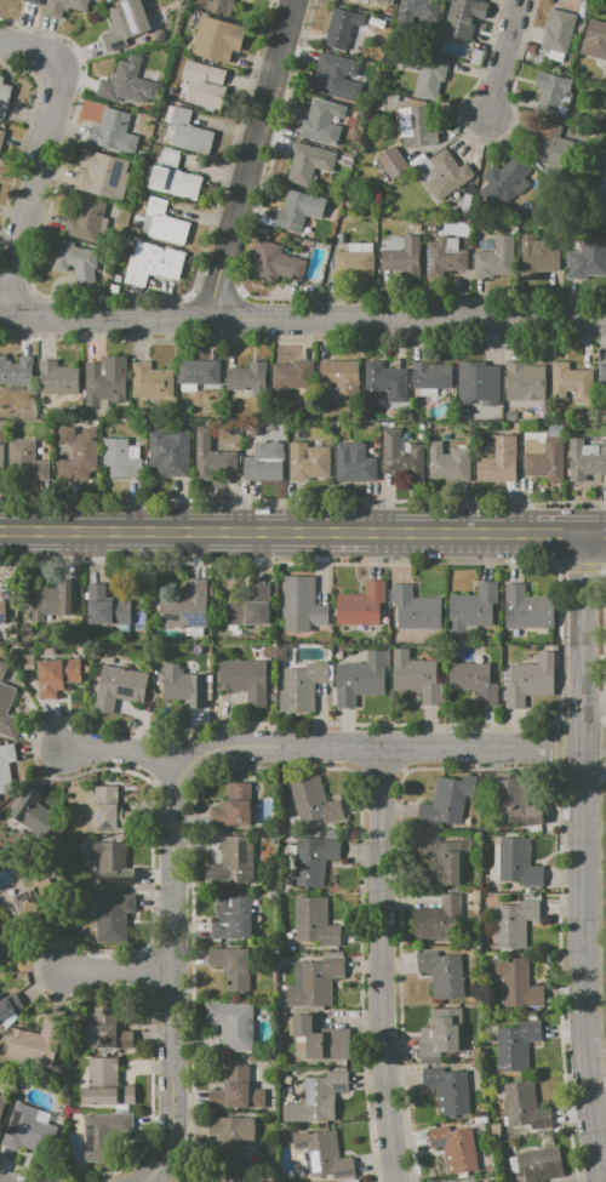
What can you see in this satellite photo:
building: (33, 0)
building: (96, 0)
building: (108, 1)
building: (382, 1)
building: (216, 5)
building: (63, 7)
building: (419, 12)
building: (463, 17)
building: (125, 23)
building: (344, 29)
building: (558, 30)
building: (216, 39)
building: (594, 39)
road: (32, 48)
road: (504, 55)
building: (333, 76)
building: (429, 76)
building: (605, 82)
building: (126, 84)
building: (204, 84)
building: (550, 92)
building: (5, 99)
building: (321, 122)
building: (416, 126)
building: (187, 131)
building: (0, 132)
building: (114, 132)
building: (553, 141)
road: (252, 158)
building: (602, 159)
building: (391, 161)
building: (309, 162)
building: (447, 173)
building: (102, 175)
building: (505, 176)
building: (173, 178)
road: (29, 185)
building: (299, 210)
building: (86, 219)
building: (162, 222)
building: (536, 257)
building: (402, 258)
building: (442, 259)
building: (494, 259)
building: (587, 259)
building: (76, 262)
building: (154, 263)
building: (274, 263)
building: (353, 264)
road: (109, 315)
road: (412, 318)
building: (16, 370)
building: (199, 371)
building: (601, 372)
building: (292, 373)
building: (478, 373)
building: (430, 375)
building: (248, 377)
building: (58, 378)
building: (105, 379)
building: (341, 379)
building: (150, 382)
building: (385, 382)
building: (524, 382)
building: (570, 383)
building: (510, 416)
building: (337, 423)
building: (170, 451)
building: (78, 453)
building: (401, 455)
building: (211, 457)
building: (544, 457)
building: (119, 458)
building: (585, 459)
building: (309, 461)
building: (498, 461)
building: (1, 462)
building: (25, 462)
building: (264, 462)
building: (354, 463)
building: (447, 466)
road: (293, 529)
road: (596, 529)
building: (53, 598)
building: (302, 604)
building: (361, 605)
building: (105, 606)
building: (185, 606)
building: (251, 607)
building: (522, 607)
building: (2, 609)
building: (415, 609)
building: (471, 609)
building: (57, 675)
building: (416, 675)
building: (245, 679)
building: (359, 679)
building: (473, 680)
building: (530, 680)
building: (184, 685)
building: (119, 687)
building: (302, 687)
road: (596, 700)
building: (7, 707)
road: (581, 724)
road: (379, 747)
road: (558, 747)
road: (602, 748)
road: (127, 749)
road: (595, 749)
building: (5, 767)
road: (579, 771)
building: (447, 800)
building: (314, 801)
building: (515, 803)
building: (234, 805)
building: (110, 809)
building: (28, 813)
road: (582, 855)
building: (438, 860)
building: (310, 861)
building: (233, 862)
building: (518, 862)
building: (113, 863)
building: (34, 903)
park: (605, 908)
building: (113, 917)
building: (434, 917)
building: (231, 918)
building: (315, 921)
building: (513, 923)
building: (5, 942)
road: (383, 964)
building: (231, 966)
road: (119, 972)
building: (441, 972)
road: (175, 980)
building: (315, 980)
building: (519, 982)
building: (7, 1001)
building: (231, 1024)
building: (108, 1029)
building: (441, 1034)
building: (320, 1038)
building: (39, 1041)
building: (515, 1045)
road: (596, 1077)
building: (105, 1084)
building: (447, 1090)
building: (236, 1091)
building: (316, 1097)
building: (1, 1102)
building: (524, 1106)
building: (25, 1130)
building: (103, 1134)
building: (230, 1137)
building: (453, 1148)
building: (324, 1154)
building: (537, 1165)
building: (231, 1180)
building: (459, 1181)

